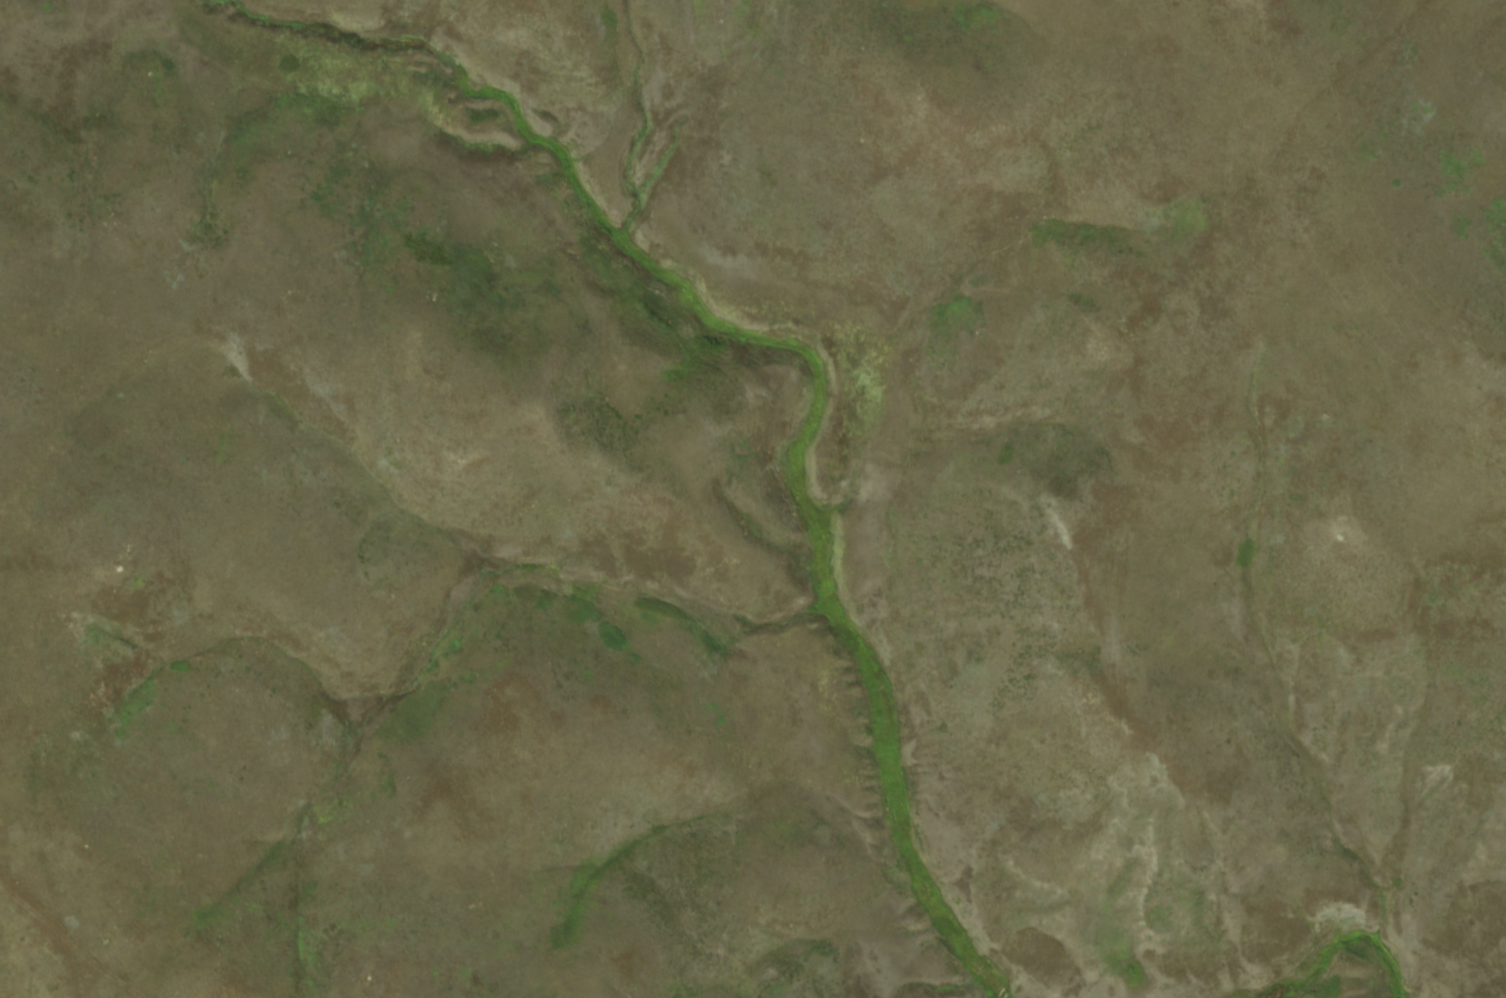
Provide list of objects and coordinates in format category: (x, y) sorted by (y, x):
road: (78, 932)

